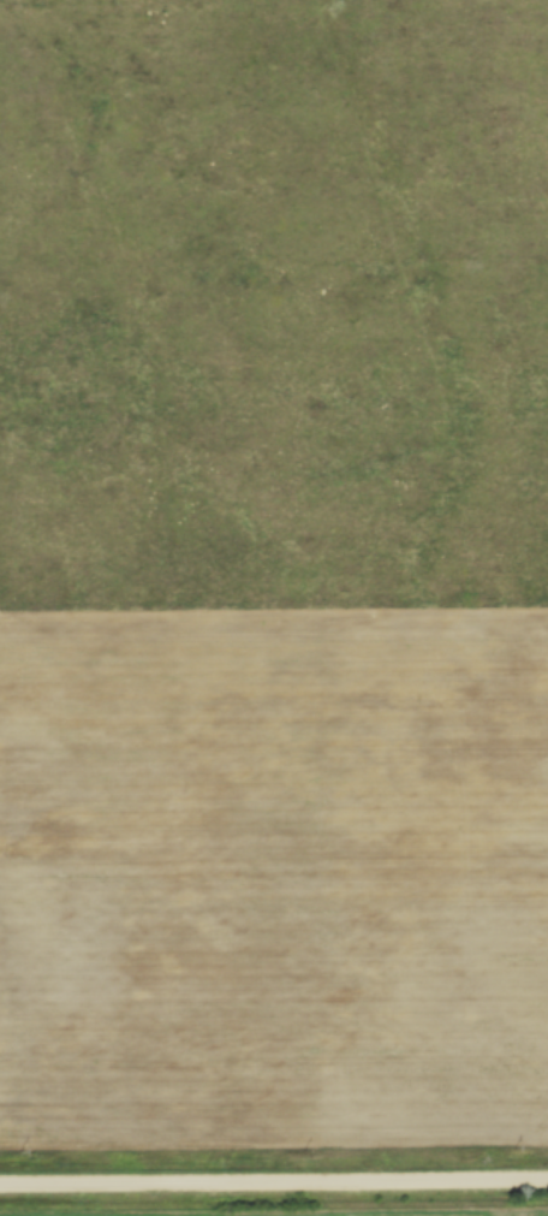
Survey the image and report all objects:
road: (274, 1192)

